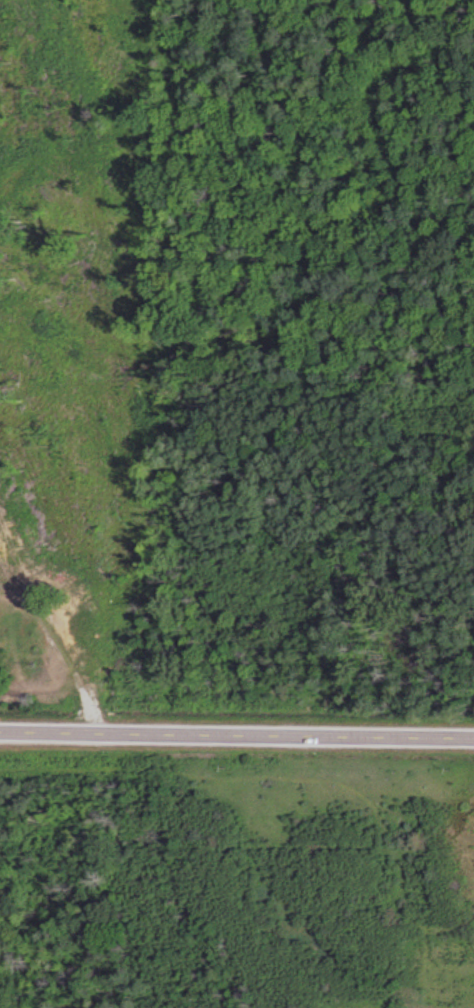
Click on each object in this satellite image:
road: (237, 734)

